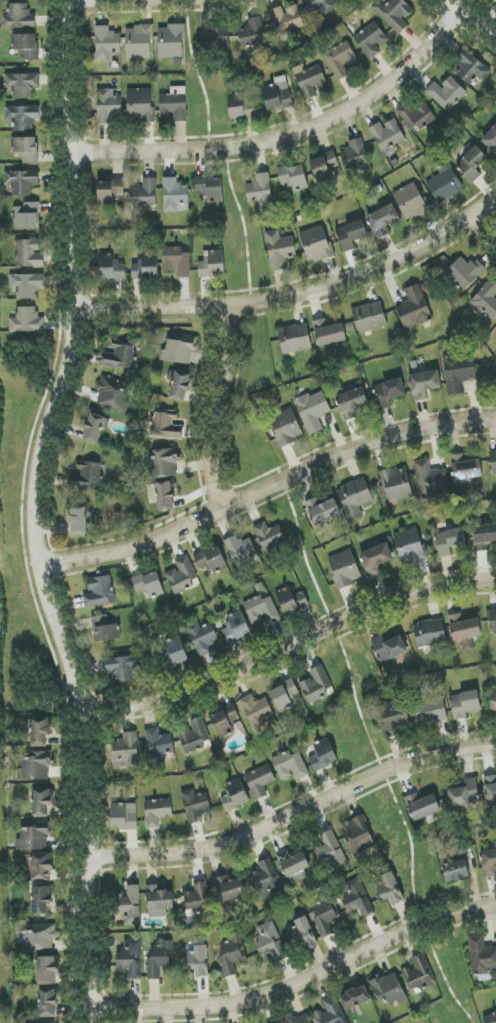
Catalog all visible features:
building: (320, 5)
building: (394, 13)
building: (18, 17)
road: (472, 18)
building: (286, 19)
building: (252, 34)
building: (215, 36)
building: (371, 40)
building: (171, 41)
building: (139, 42)
building: (106, 43)
building: (26, 46)
building: (340, 59)
building: (471, 69)
building: (310, 80)
building: (22, 84)
building: (445, 93)
building: (277, 95)
building: (174, 104)
building: (108, 105)
building: (140, 105)
building: (240, 106)
building: (416, 116)
building: (22, 117)
road: (286, 134)
building: (387, 135)
building: (491, 140)
building: (26, 149)
building: (354, 155)
building: (472, 163)
building: (324, 164)
building: (293, 177)
building: (21, 182)
building: (445, 185)
building: (210, 188)
building: (260, 190)
building: (110, 191)
building: (144, 194)
building: (174, 194)
building: (410, 202)
building: (27, 216)
building: (382, 221)
road: (486, 224)
building: (351, 235)
building: (316, 244)
building: (280, 250)
building: (28, 254)
building: (176, 261)
building: (212, 264)
building: (110, 267)
building: (146, 267)
building: (464, 273)
building: (26, 285)
road: (298, 293)
building: (486, 301)
building: (414, 308)
building: (369, 317)
building: (27, 321)
building: (329, 333)
building: (294, 338)
building: (178, 352)
building: (120, 357)
building: (459, 373)
building: (424, 384)
building: (179, 385)
building: (389, 392)
building: (114, 395)
building: (352, 403)
road: (218, 407)
building: (313, 411)
building: (165, 426)
building: (286, 427)
building: (94, 428)
building: (163, 462)
building: (493, 462)
building: (466, 468)
building: (87, 478)
building: (430, 479)
building: (397, 485)
road: (266, 488)
building: (162, 495)
building: (354, 498)
building: (323, 511)
road: (34, 512)
building: (77, 520)
building: (484, 536)
building: (269, 538)
building: (449, 541)
building: (409, 546)
building: (241, 551)
building: (375, 559)
building: (211, 560)
building: (345, 569)
building: (182, 575)
building: (149, 584)
building: (98, 591)
building: (291, 600)
building: (262, 610)
building: (493, 621)
building: (236, 628)
building: (105, 629)
building: (464, 630)
building: (430, 633)
building: (202, 638)
road: (289, 646)
building: (389, 648)
building: (174, 652)
building: (123, 667)
building: (316, 685)
building: (284, 695)
building: (493, 697)
building: (465, 704)
building: (430, 710)
building: (256, 711)
building: (394, 715)
building: (225, 720)
building: (39, 731)
building: (194, 735)
building: (158, 745)
building: (126, 751)
building: (323, 755)
building: (35, 766)
building: (290, 766)
building: (260, 781)
building: (490, 788)
building: (465, 794)
building: (234, 795)
building: (41, 802)
building: (195, 805)
building: (422, 806)
building: (157, 812)
road: (293, 814)
building: (124, 816)
building: (357, 836)
building: (33, 839)
building: (331, 853)
building: (489, 863)
building: (294, 866)
building: (41, 867)
building: (456, 871)
building: (266, 880)
building: (229, 888)
building: (389, 888)
building: (355, 899)
building: (41, 900)
building: (159, 901)
building: (198, 902)
building: (130, 905)
building: (324, 917)
building: (303, 932)
building: (38, 938)
building: (269, 942)
building: (231, 955)
building: (481, 955)
building: (130, 959)
building: (160, 960)
building: (199, 961)
building: (46, 970)
building: (418, 975)
road: (299, 981)
building: (389, 989)
building: (355, 998)
building: (47, 1003)
building: (329, 1012)
building: (490, 1018)
building: (300, 1019)

